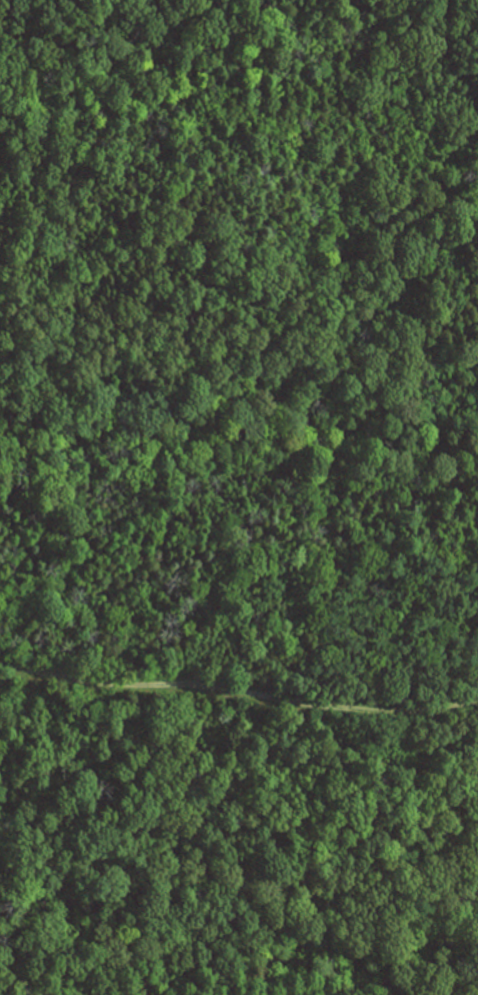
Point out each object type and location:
road: (238, 692)

